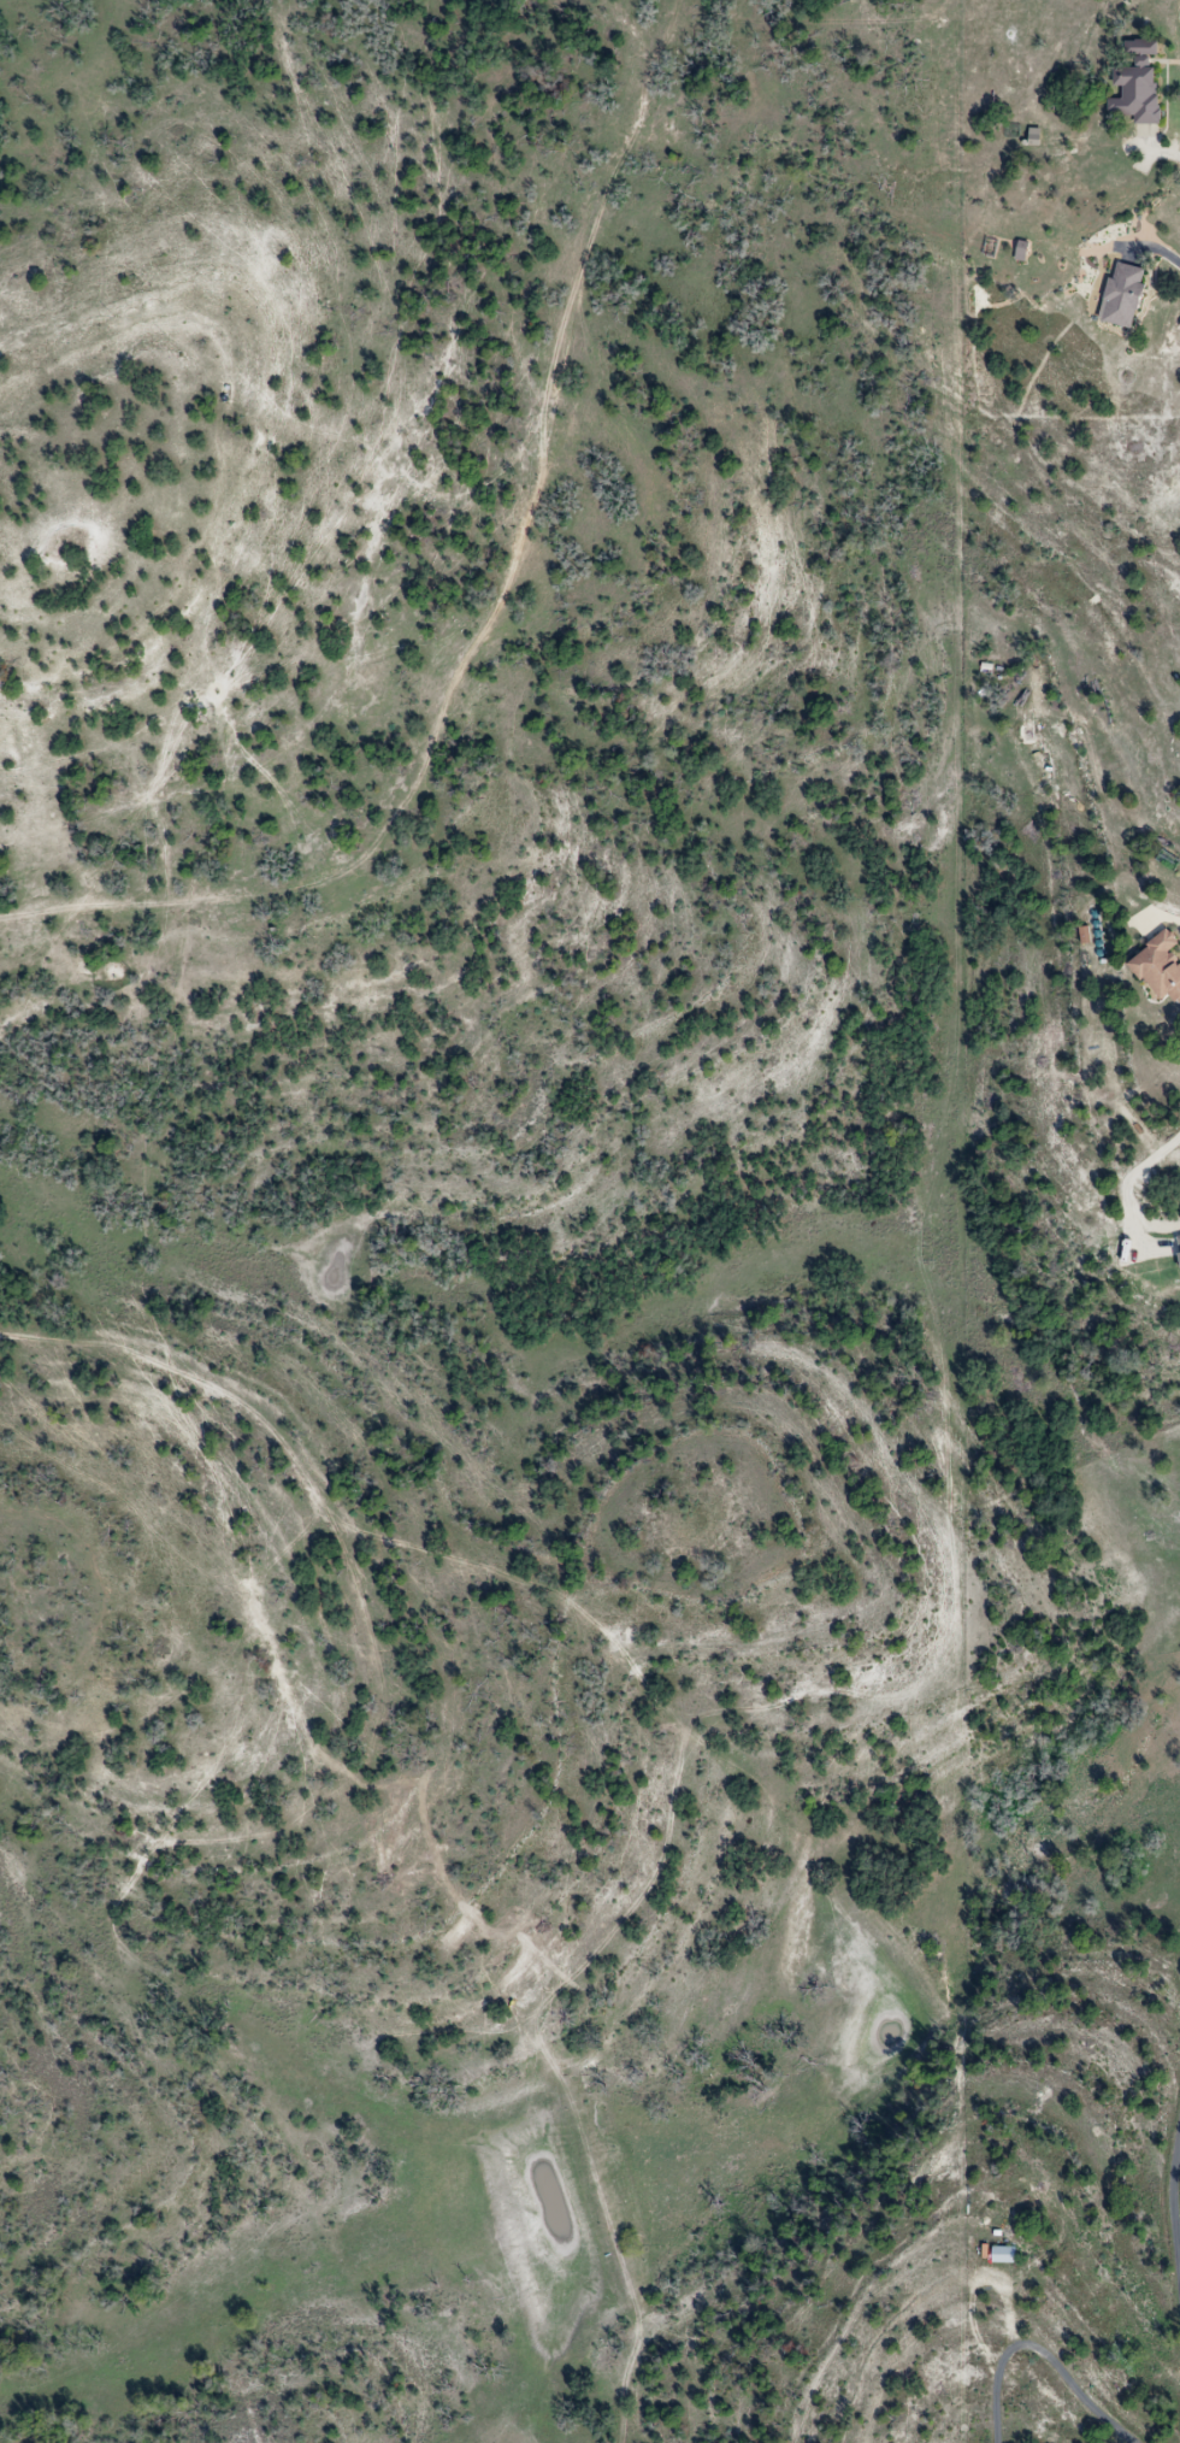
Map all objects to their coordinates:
building: (1140, 84)
road: (1175, 152)
road: (1163, 242)
building: (1128, 295)
building: (1161, 965)
road: (1133, 1176)
road: (1175, 2203)
building: (1008, 2254)
road: (1042, 2351)

